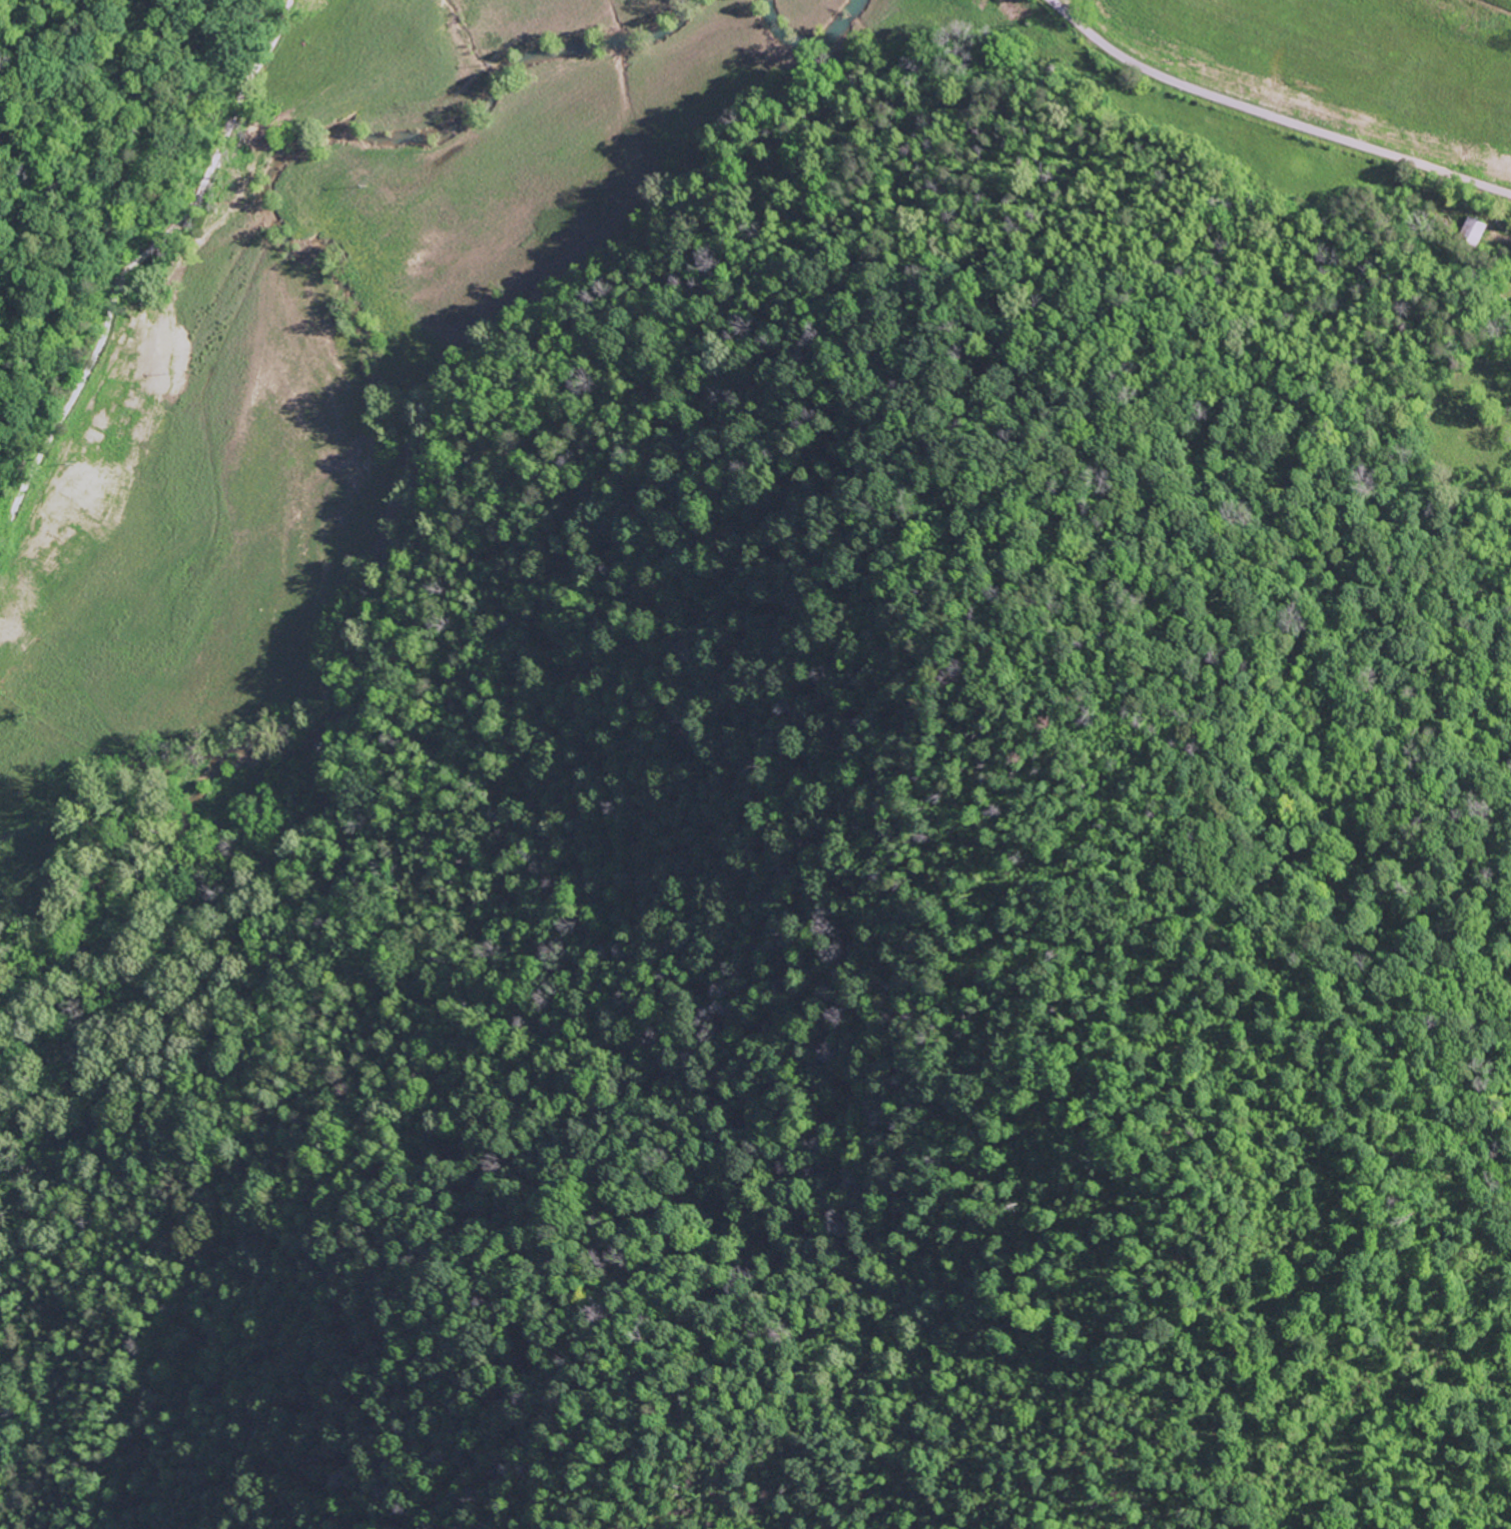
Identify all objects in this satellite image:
road: (1273, 113)
road: (127, 258)

